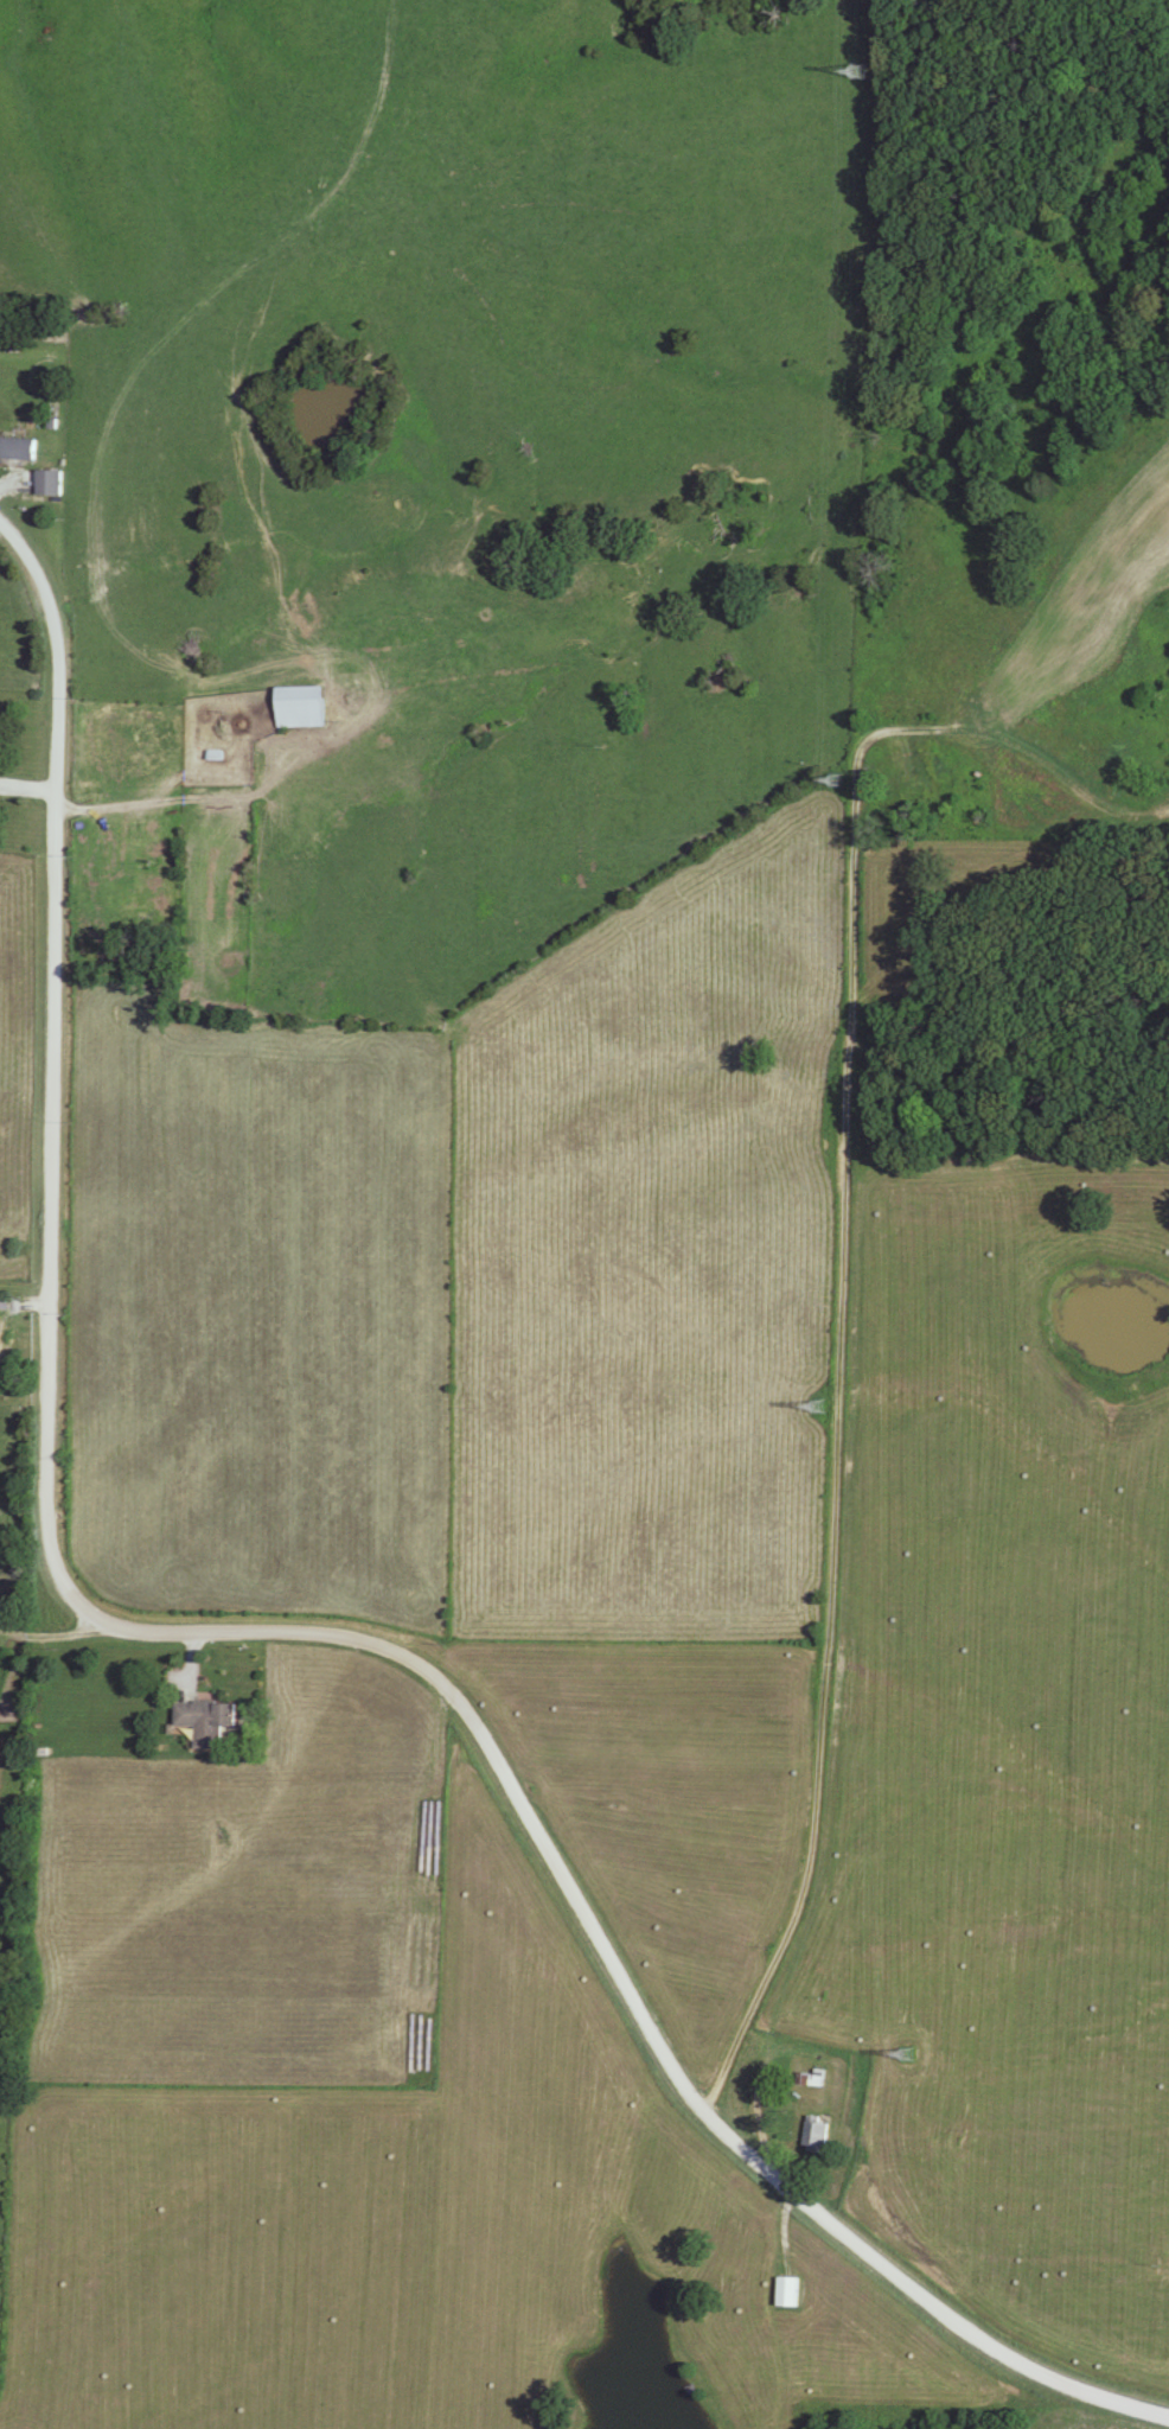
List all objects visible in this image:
power tower: (861, 72)
building: (17, 451)
building: (49, 484)
building: (301, 707)
power tower: (833, 778)
road: (204, 797)
building: (2, 1338)
power tower: (812, 1407)
road: (836, 1407)
road: (243, 1636)
building: (207, 1722)
power tower: (902, 2049)
building: (817, 2137)
building: (787, 2293)

